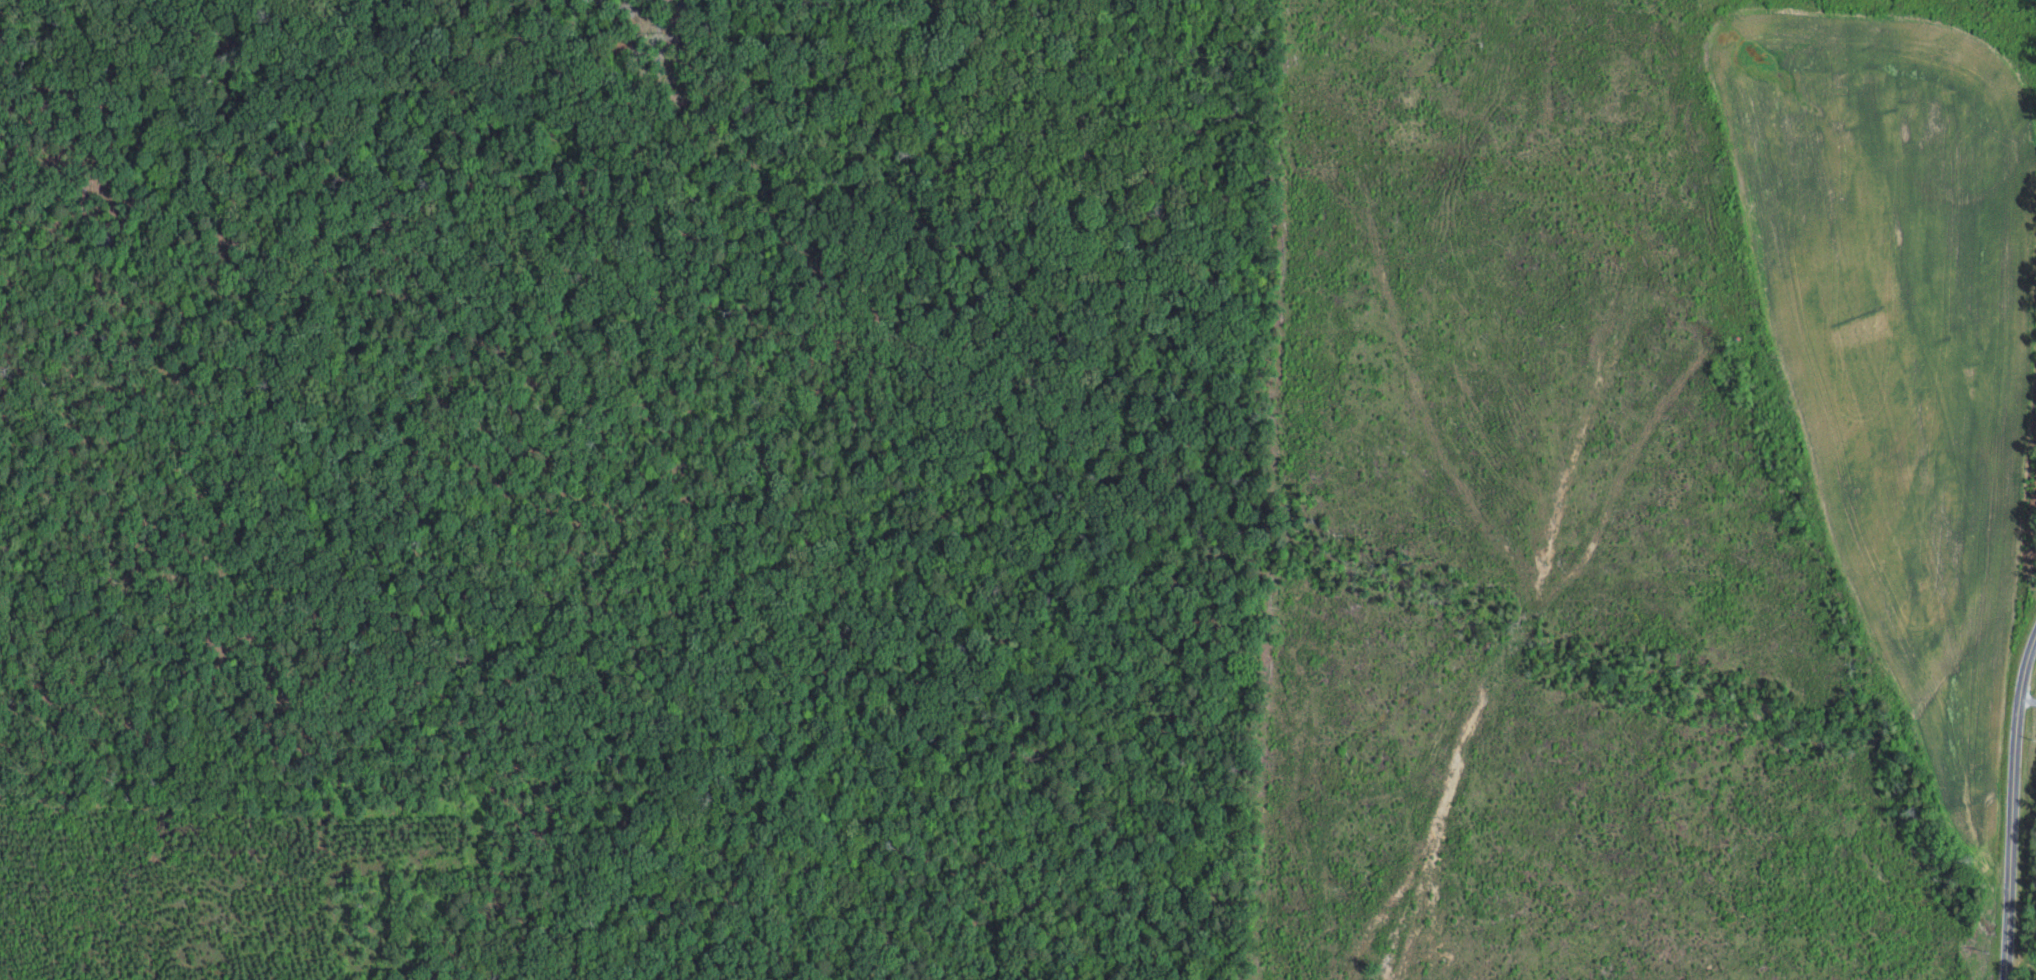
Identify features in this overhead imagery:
road: (2027, 700)
road: (2010, 804)

